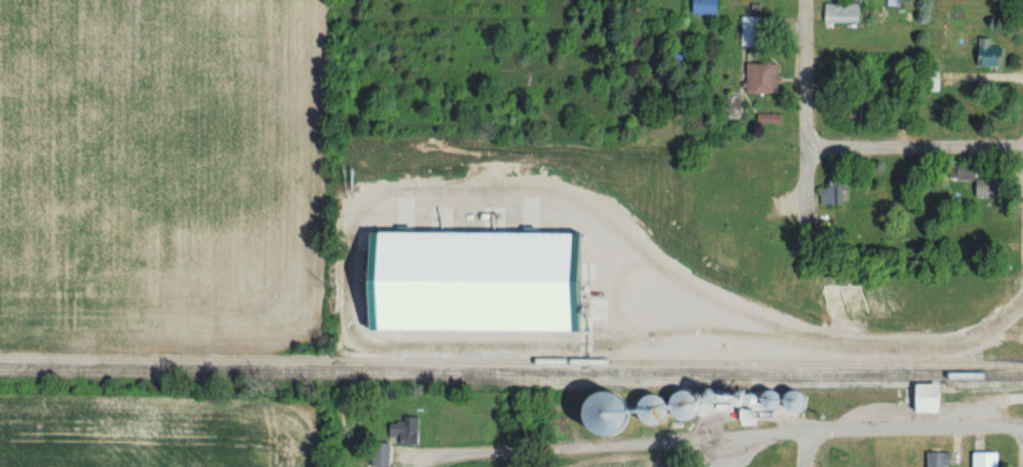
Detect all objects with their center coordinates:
building: (895, 2)
building: (845, 12)
building: (755, 30)
building: (992, 53)
road: (805, 76)
building: (767, 77)
building: (928, 79)
building: (858, 105)
road: (914, 151)
building: (983, 180)
building: (837, 191)
building: (728, 195)
road: (804, 215)
building: (774, 232)
building: (474, 276)
road: (822, 343)
railway: (511, 360)
railway: (511, 372)
building: (935, 397)
storage tank: (773, 399)
storage tank: (796, 401)
storage tank: (686, 405)
storage tank: (654, 409)
building: (631, 411)
storage tank: (605, 413)
building: (408, 428)
road: (723, 433)
road: (803, 447)
building: (383, 454)
building: (941, 459)
building: (990, 460)

